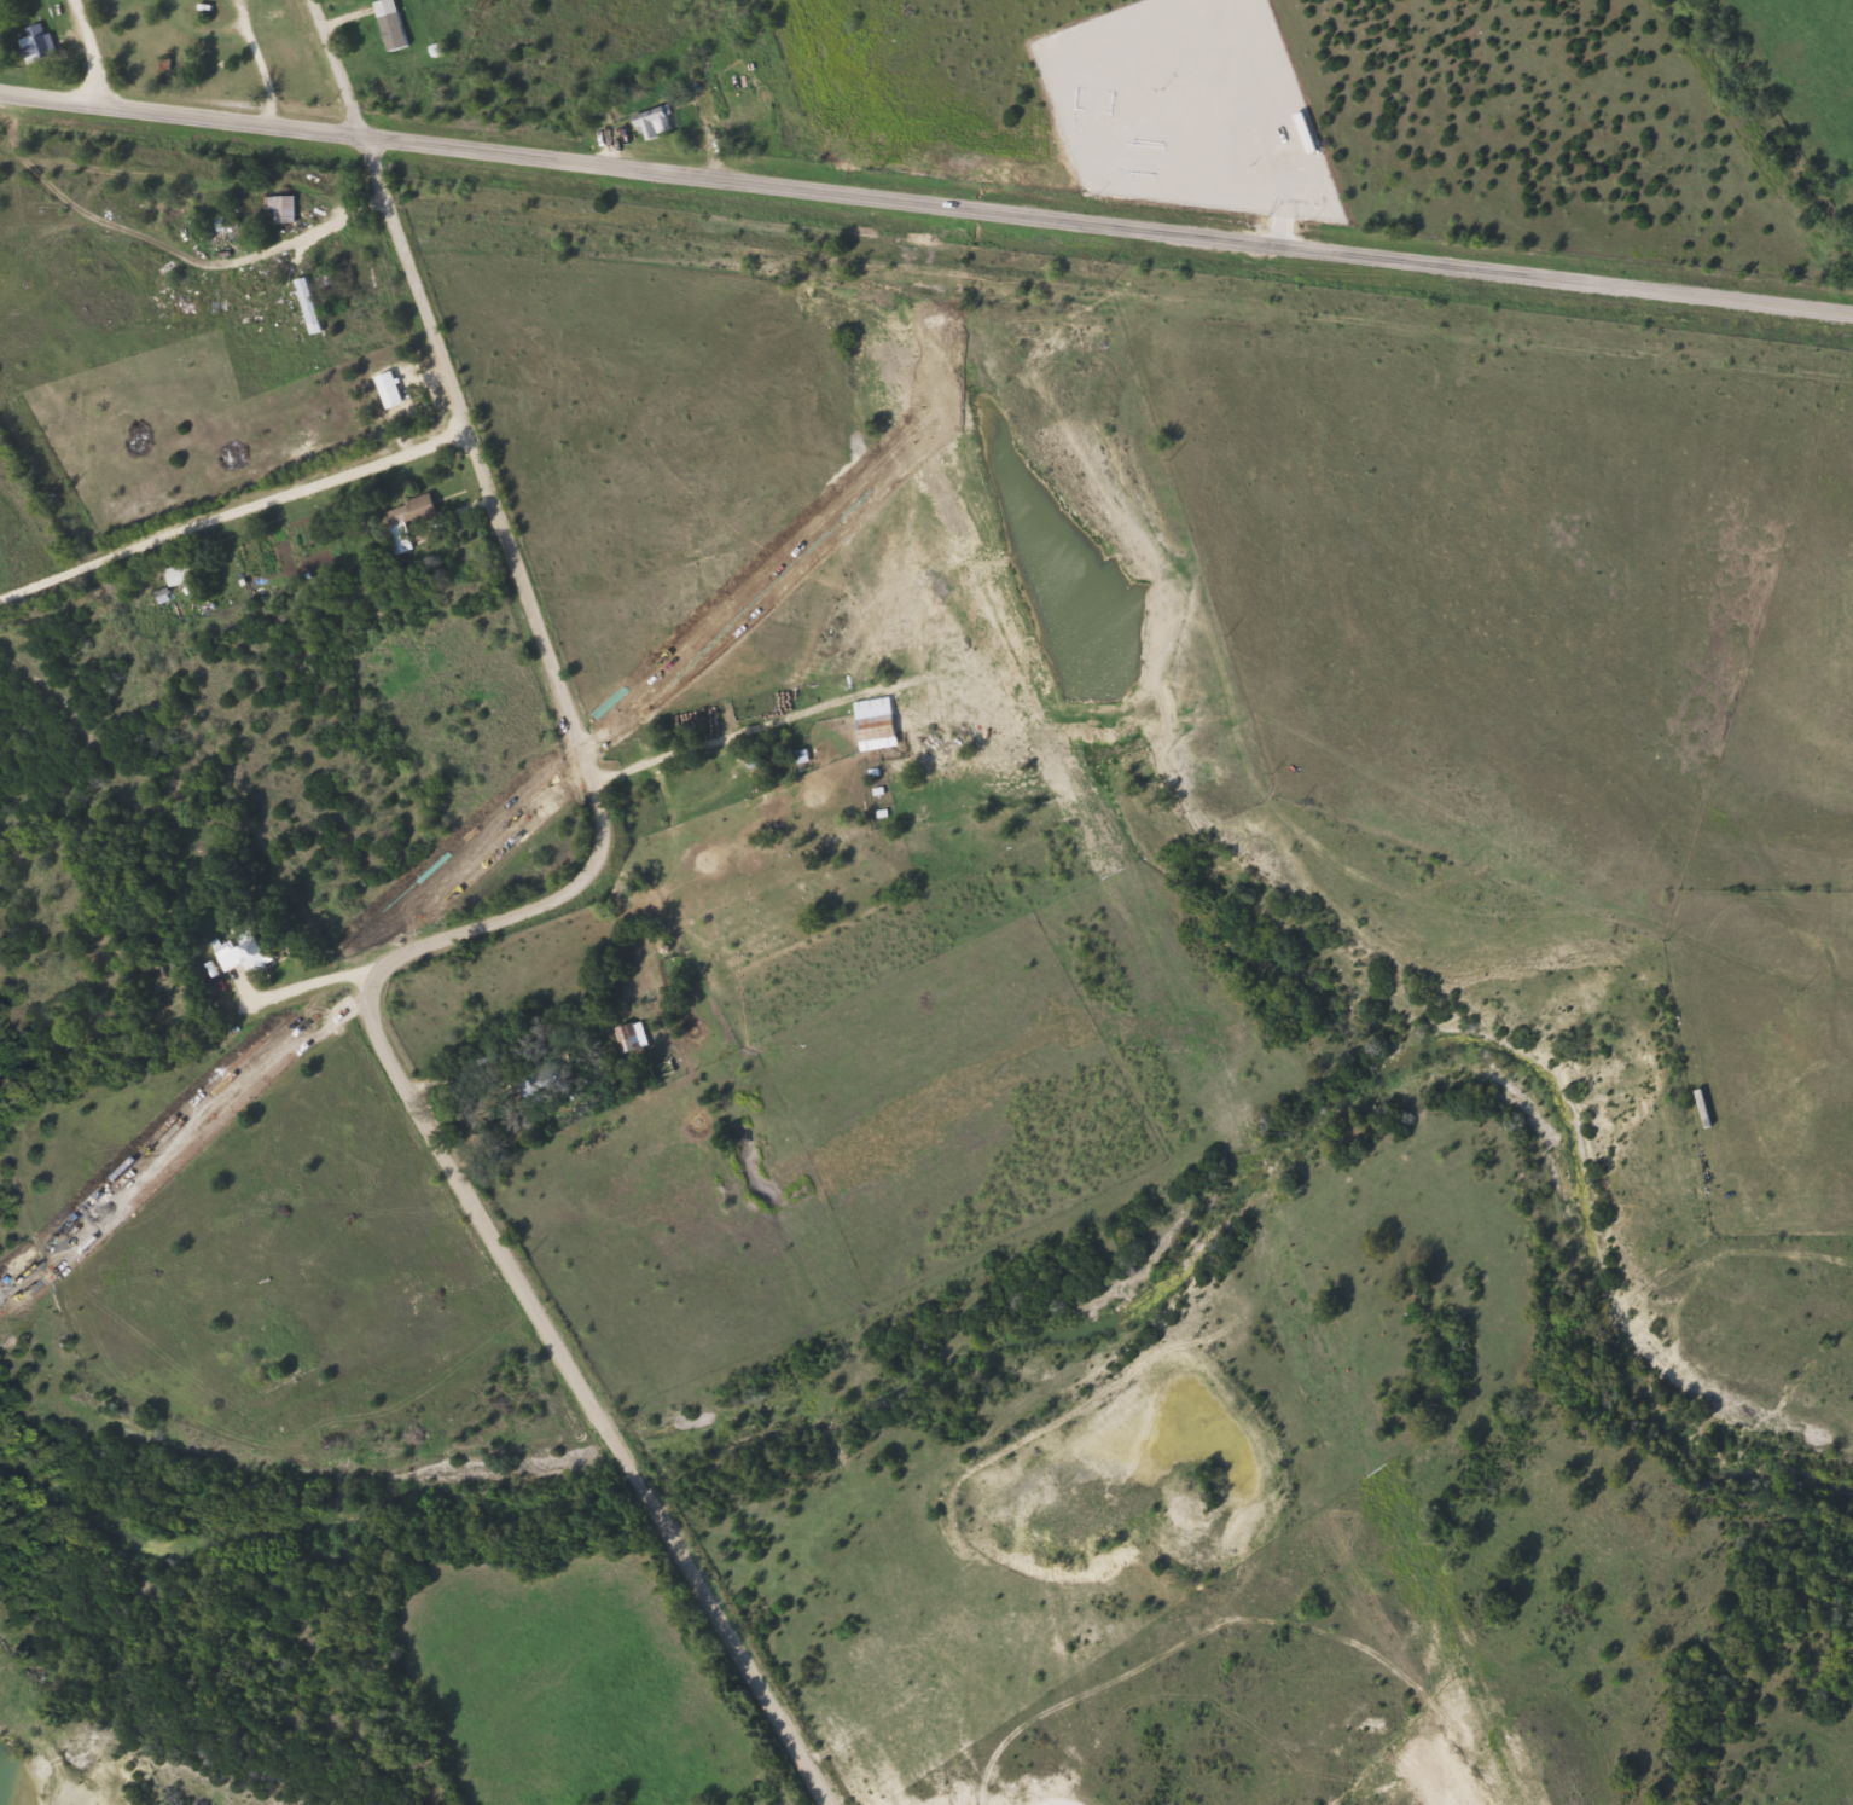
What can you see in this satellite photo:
building: (389, 21)
building: (29, 35)
building: (434, 39)
road: (88, 51)
road: (181, 110)
building: (649, 110)
building: (278, 207)
road: (1108, 220)
railway: (927, 277)
building: (306, 297)
road: (465, 408)
road: (232, 498)
building: (412, 517)
building: (186, 562)
building: (871, 727)
road: (480, 917)
building: (248, 942)
road: (300, 979)
building: (536, 1075)
road: (495, 1246)
road: (734, 1641)

